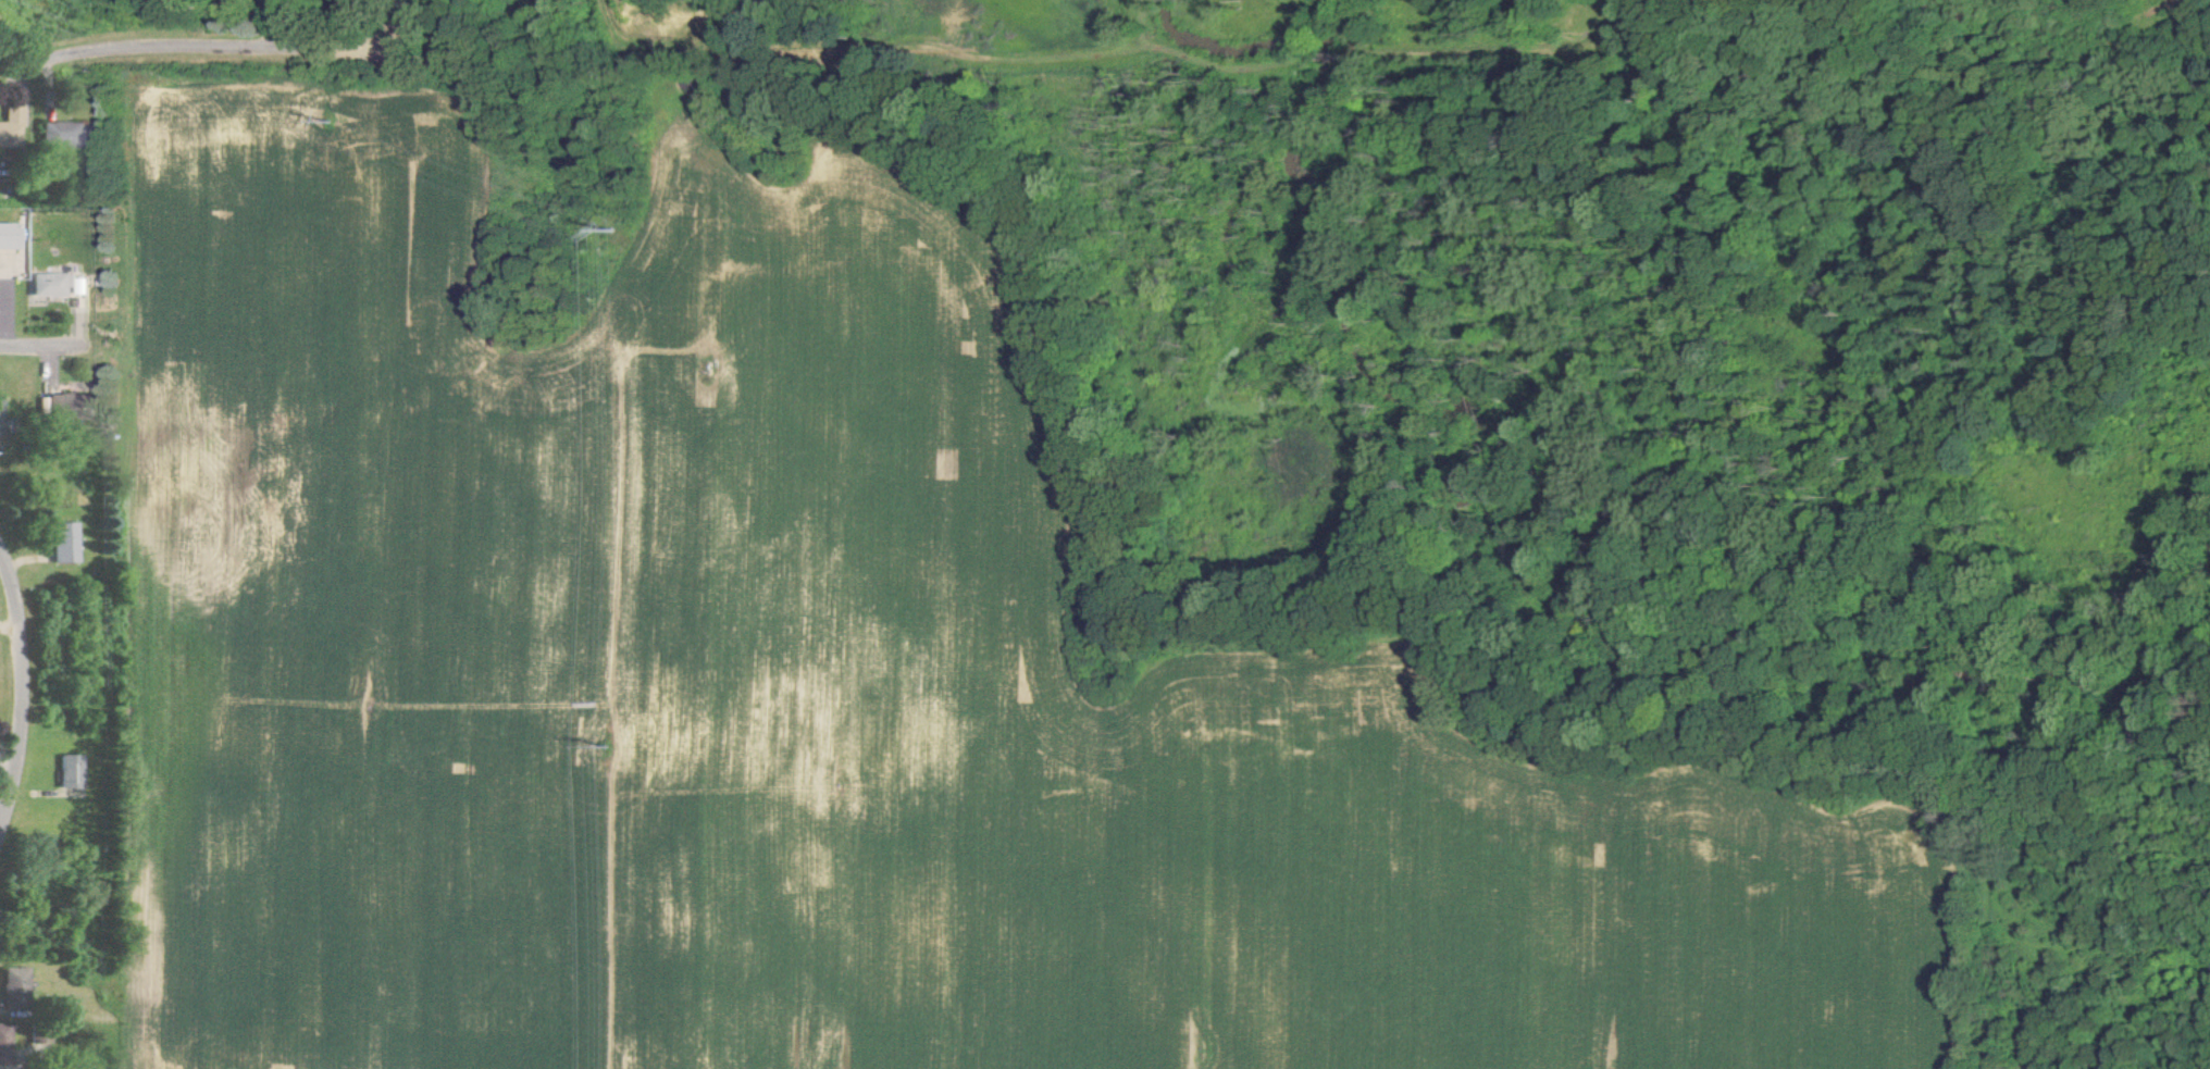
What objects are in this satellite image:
road: (211, 55)
power tower: (336, 126)
building: (11, 128)
building: (64, 134)
power tower: (625, 234)
building: (9, 235)
building: (52, 284)
road: (50, 349)
building: (72, 406)
building: (65, 542)
road: (24, 693)
power tower: (609, 747)
building: (70, 771)
building: (16, 984)
building: (5, 1043)

